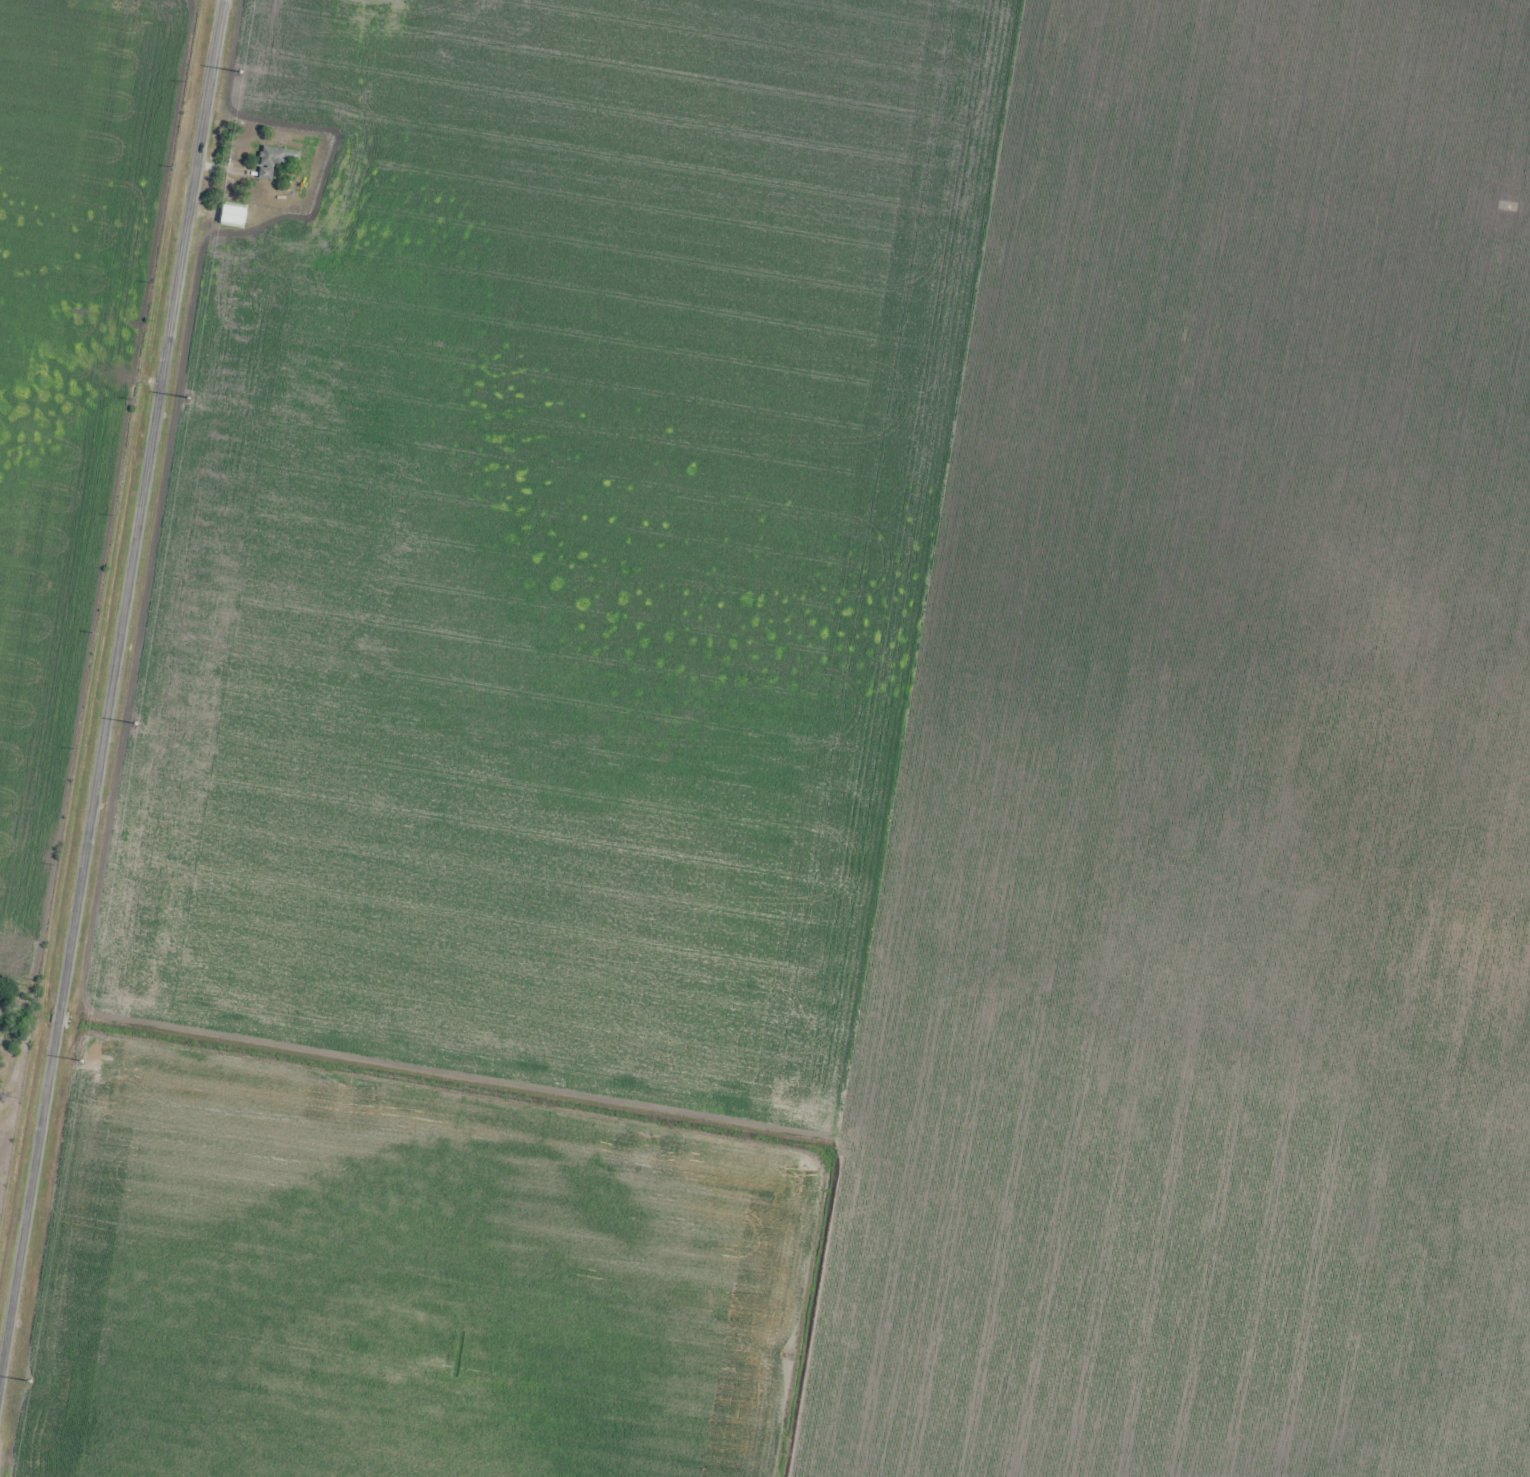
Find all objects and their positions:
power tower: (236, 76)
building: (276, 161)
building: (234, 216)
power tower: (184, 403)
road: (120, 696)
power tower: (130, 730)
power tower: (78, 1056)
power tower: (26, 1384)

